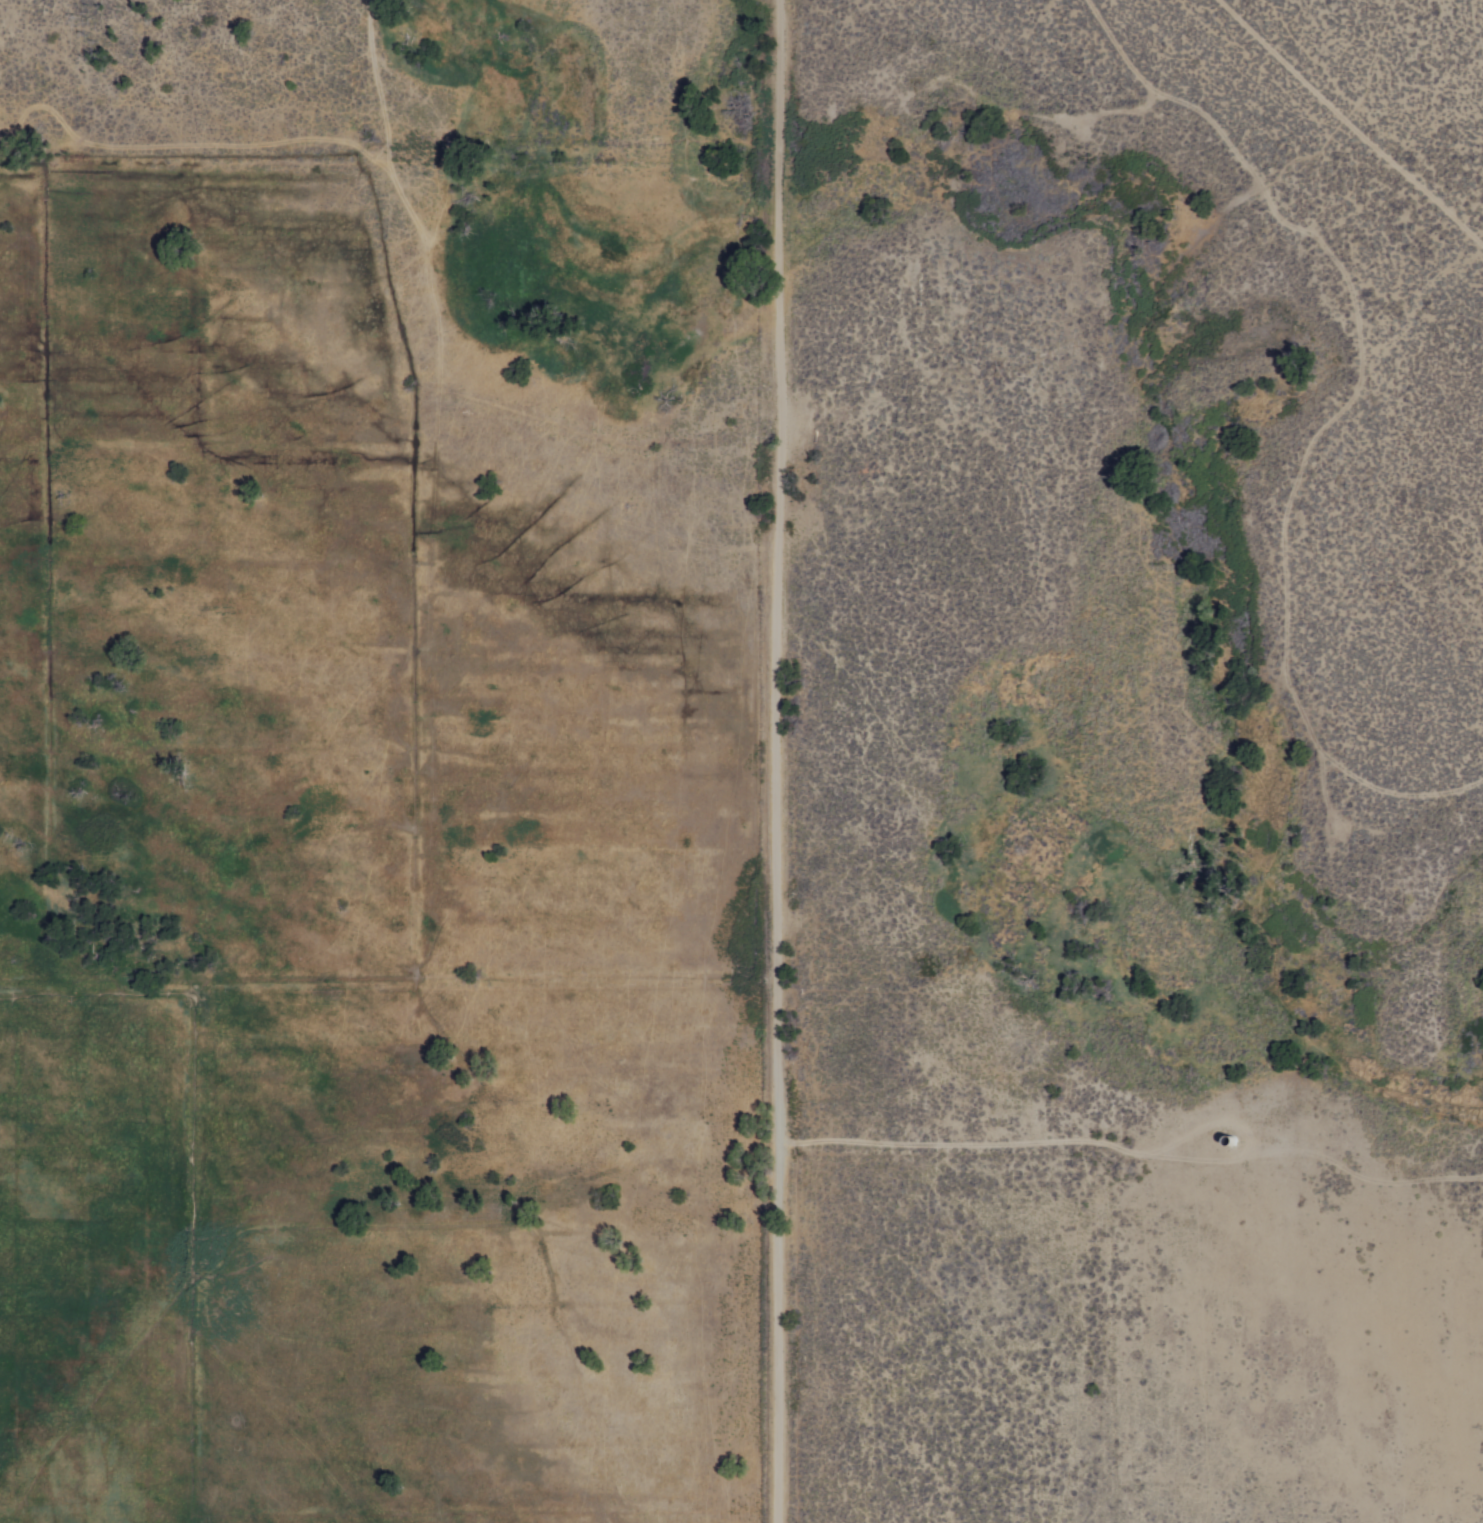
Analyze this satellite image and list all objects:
road: (1356, 118)
road: (1340, 415)
road: (776, 761)
road: (1131, 1146)

